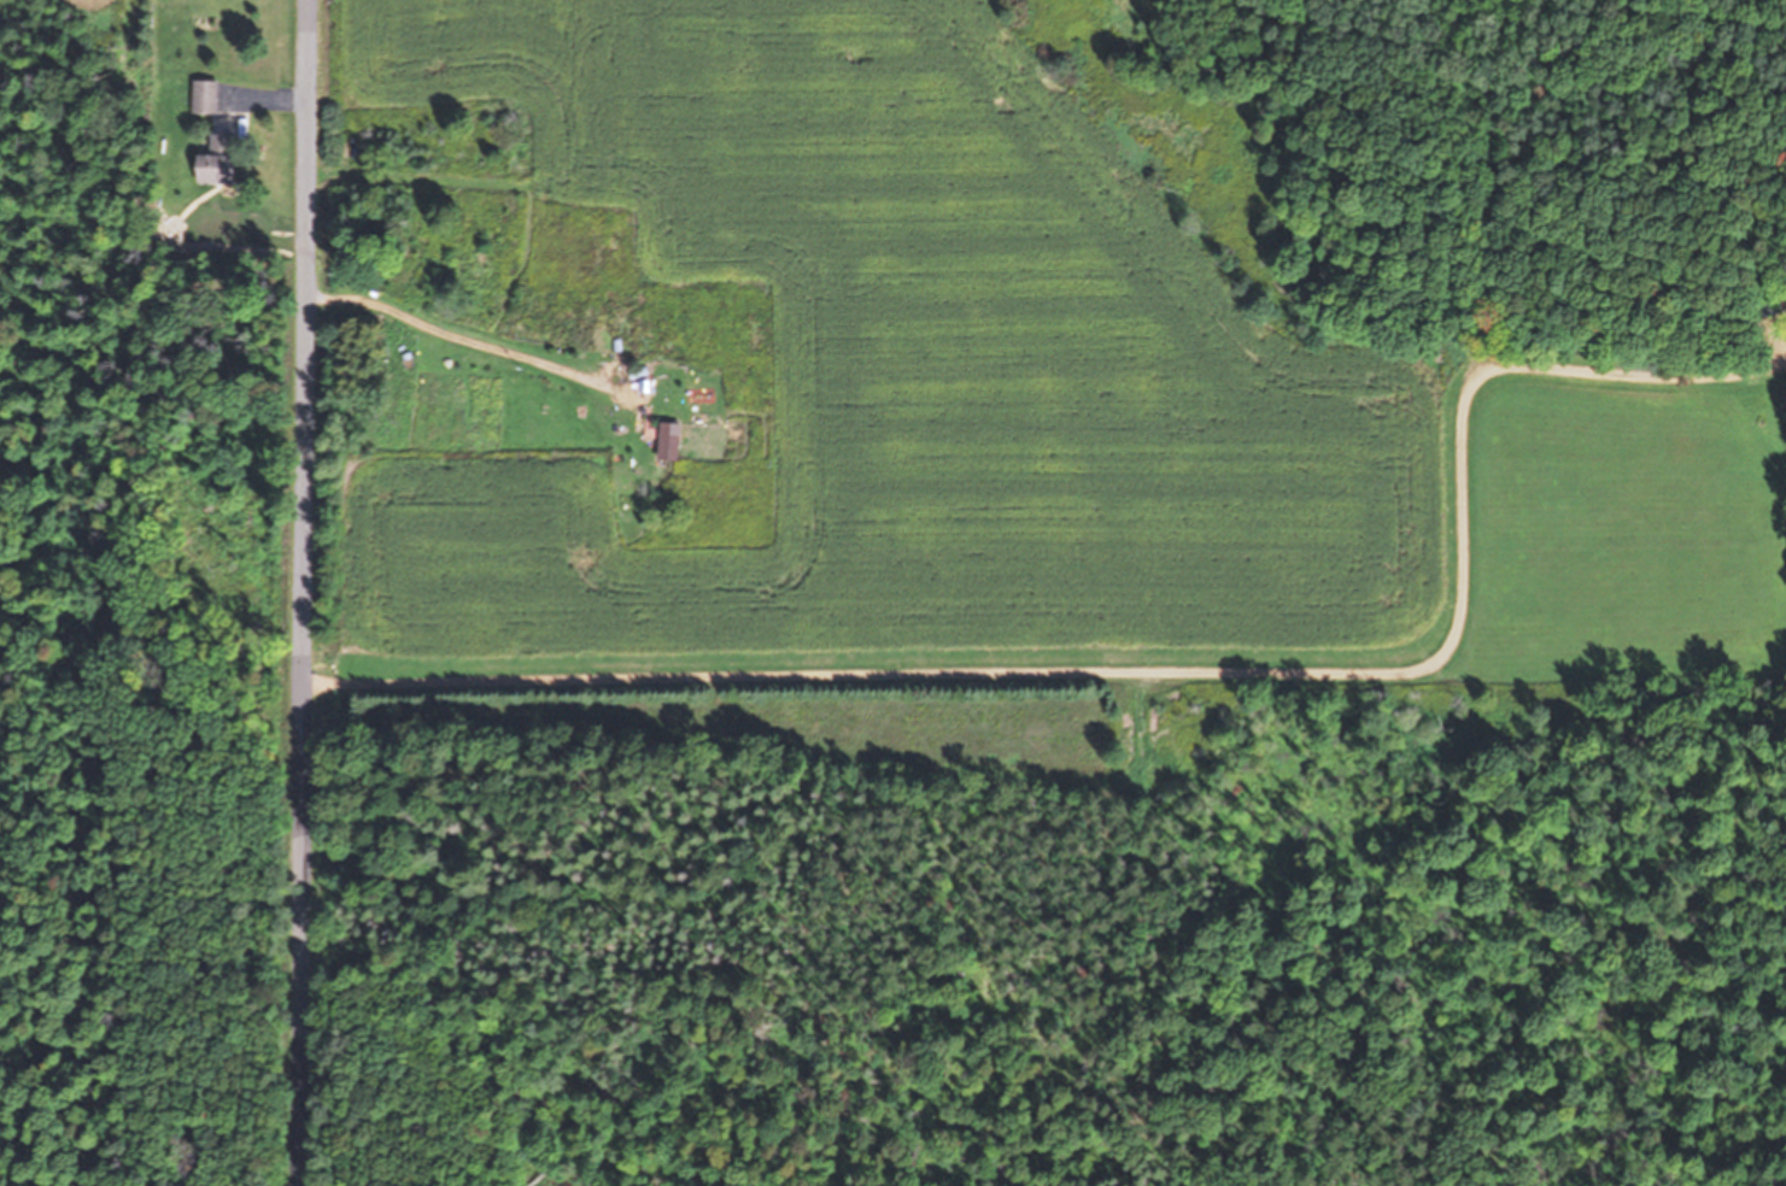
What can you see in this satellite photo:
building: (206, 96)
building: (219, 162)
building: (1785, 369)
crop: (816, 374)
building: (674, 441)
road: (303, 593)

